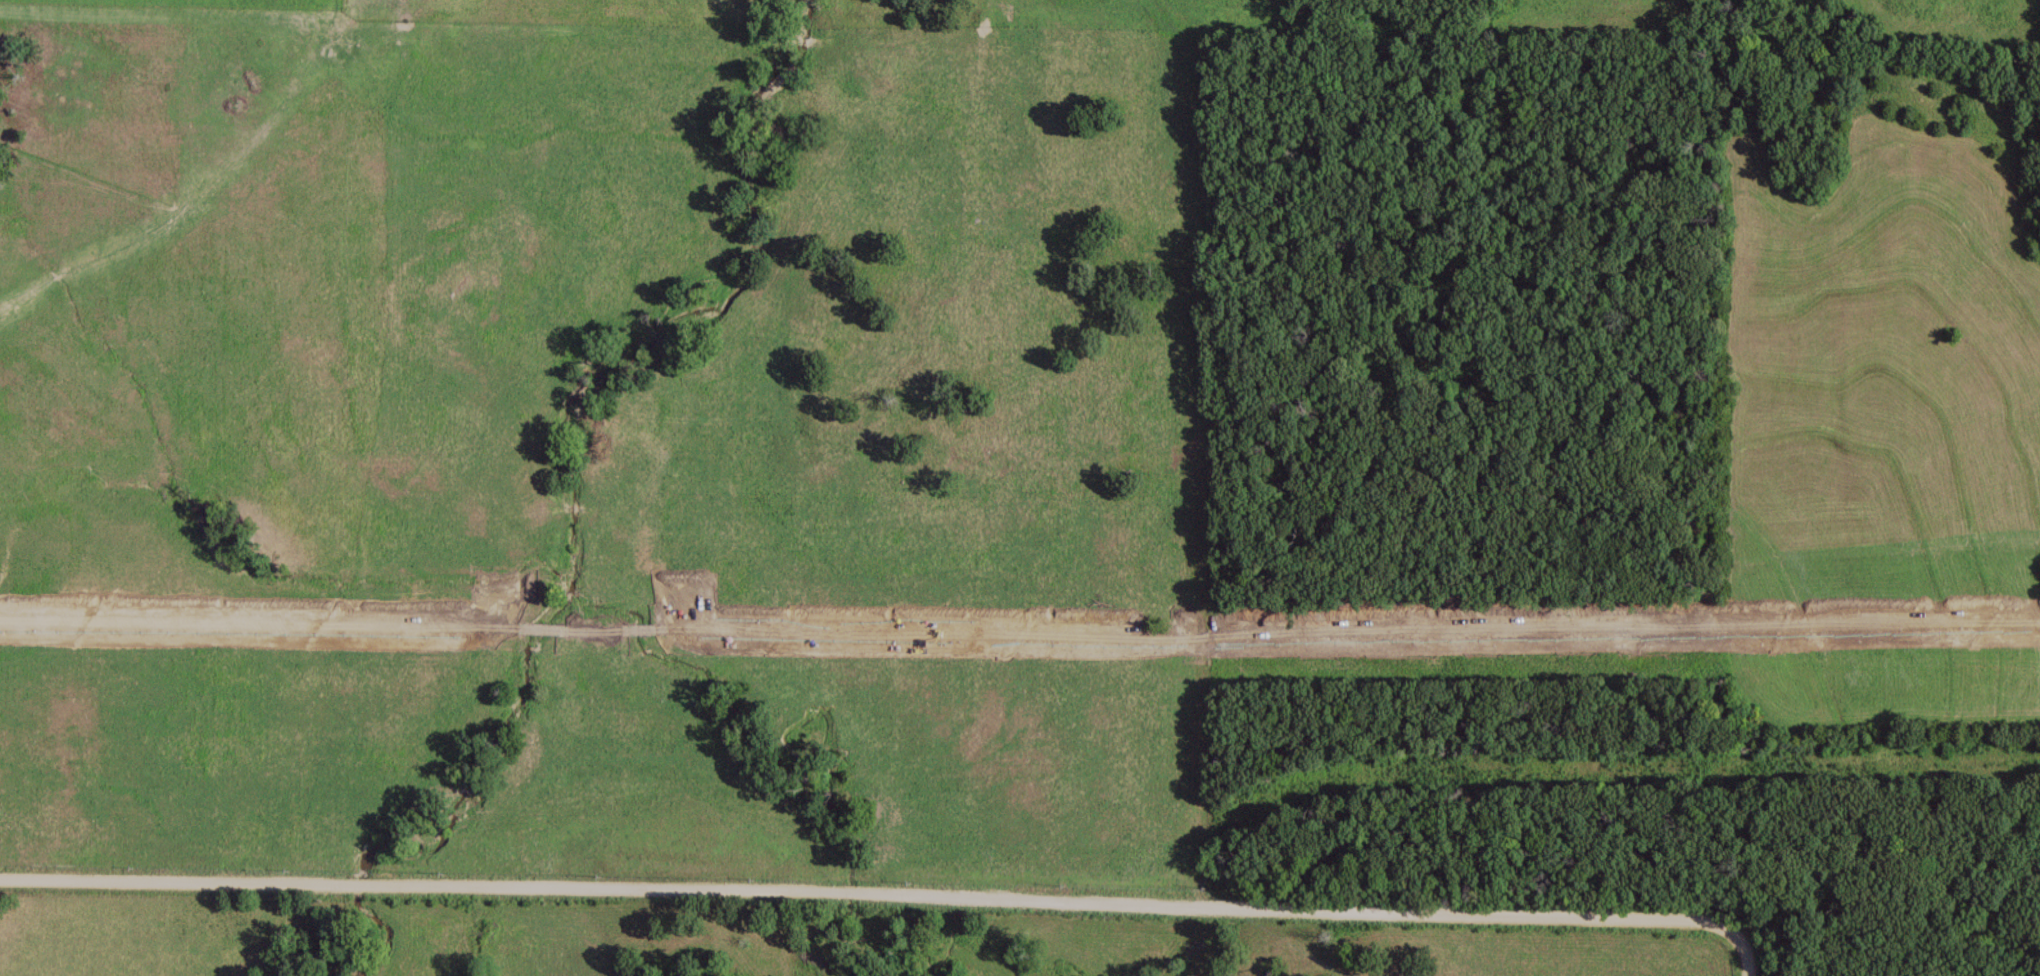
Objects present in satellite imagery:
road: (889, 899)

